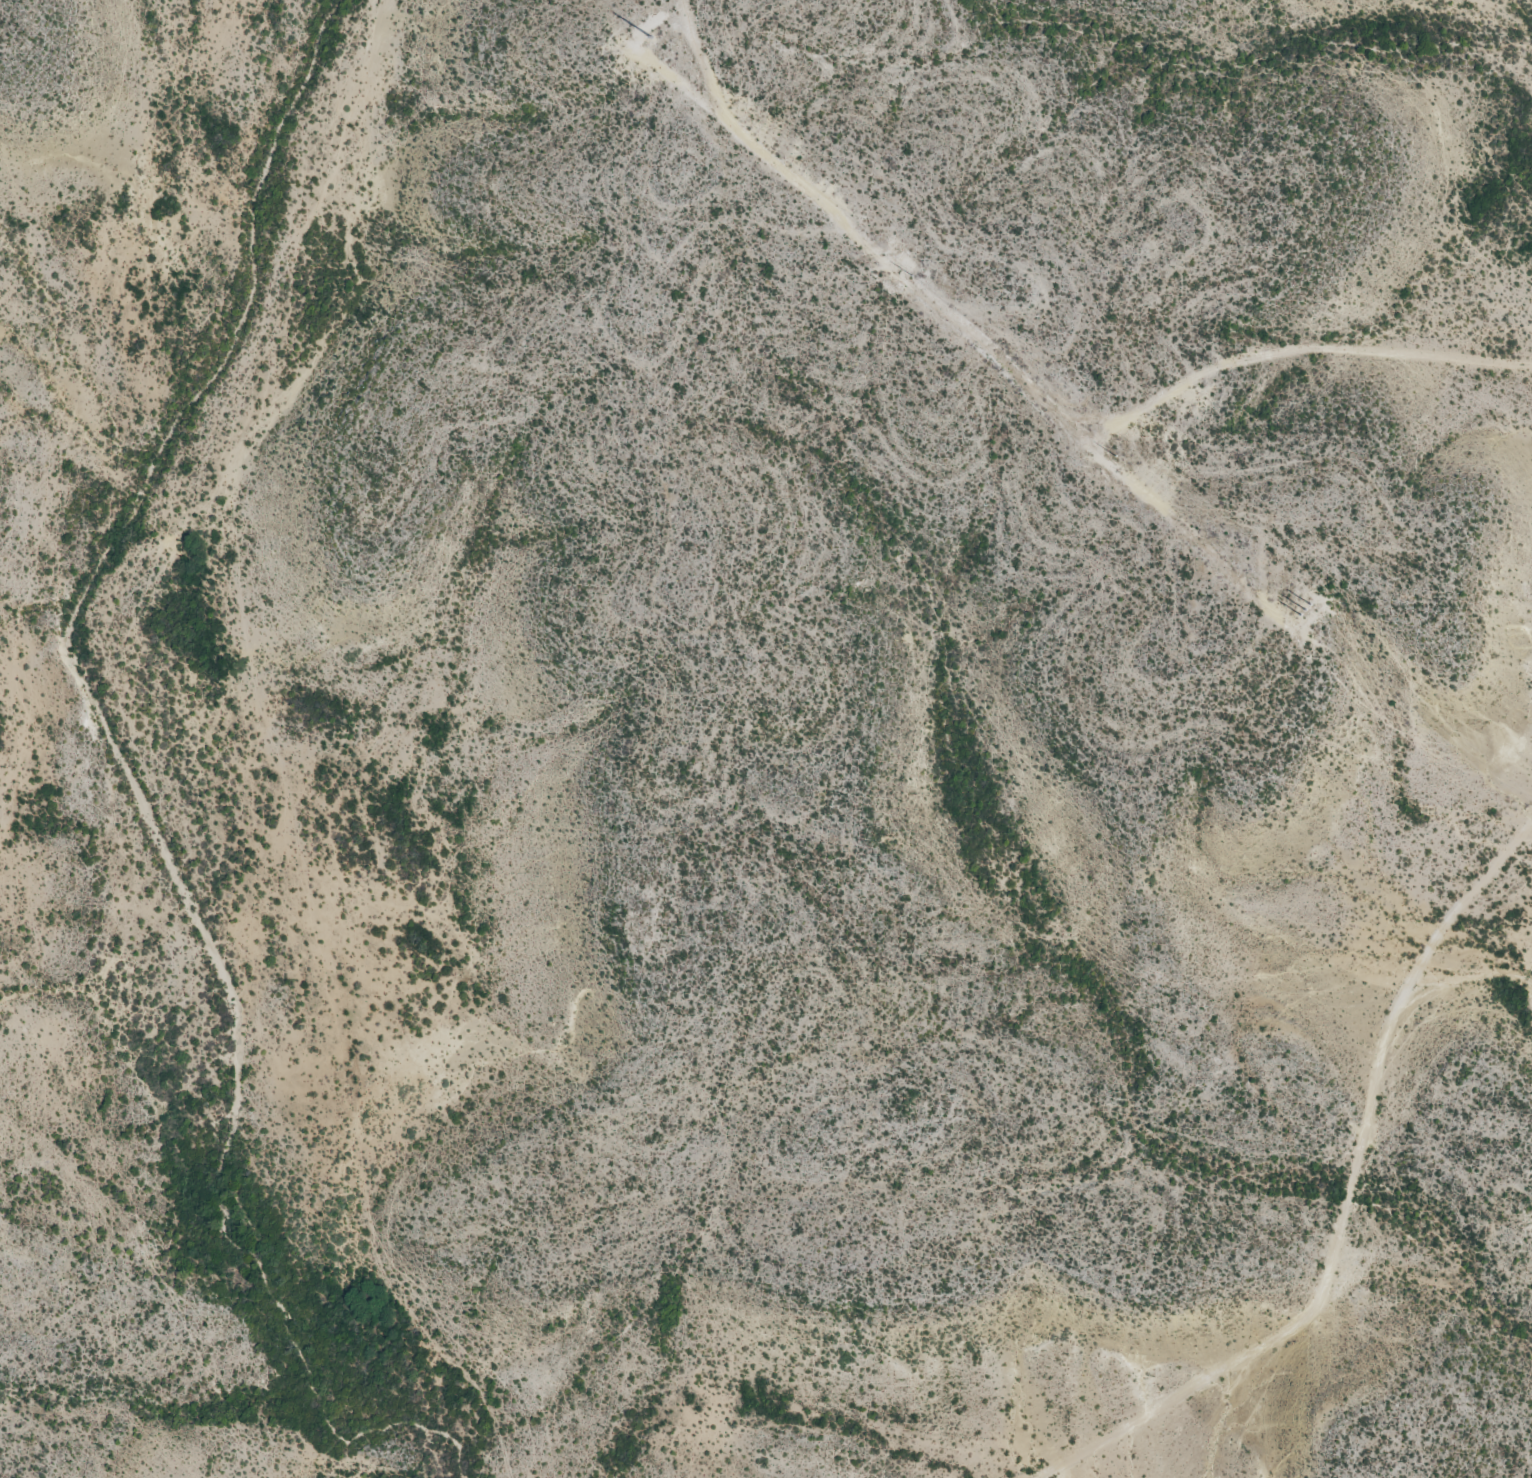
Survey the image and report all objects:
power tower: (650, 35)
power tower: (912, 273)
power tower: (1116, 457)
power tower: (1300, 609)
road: (1359, 1211)

